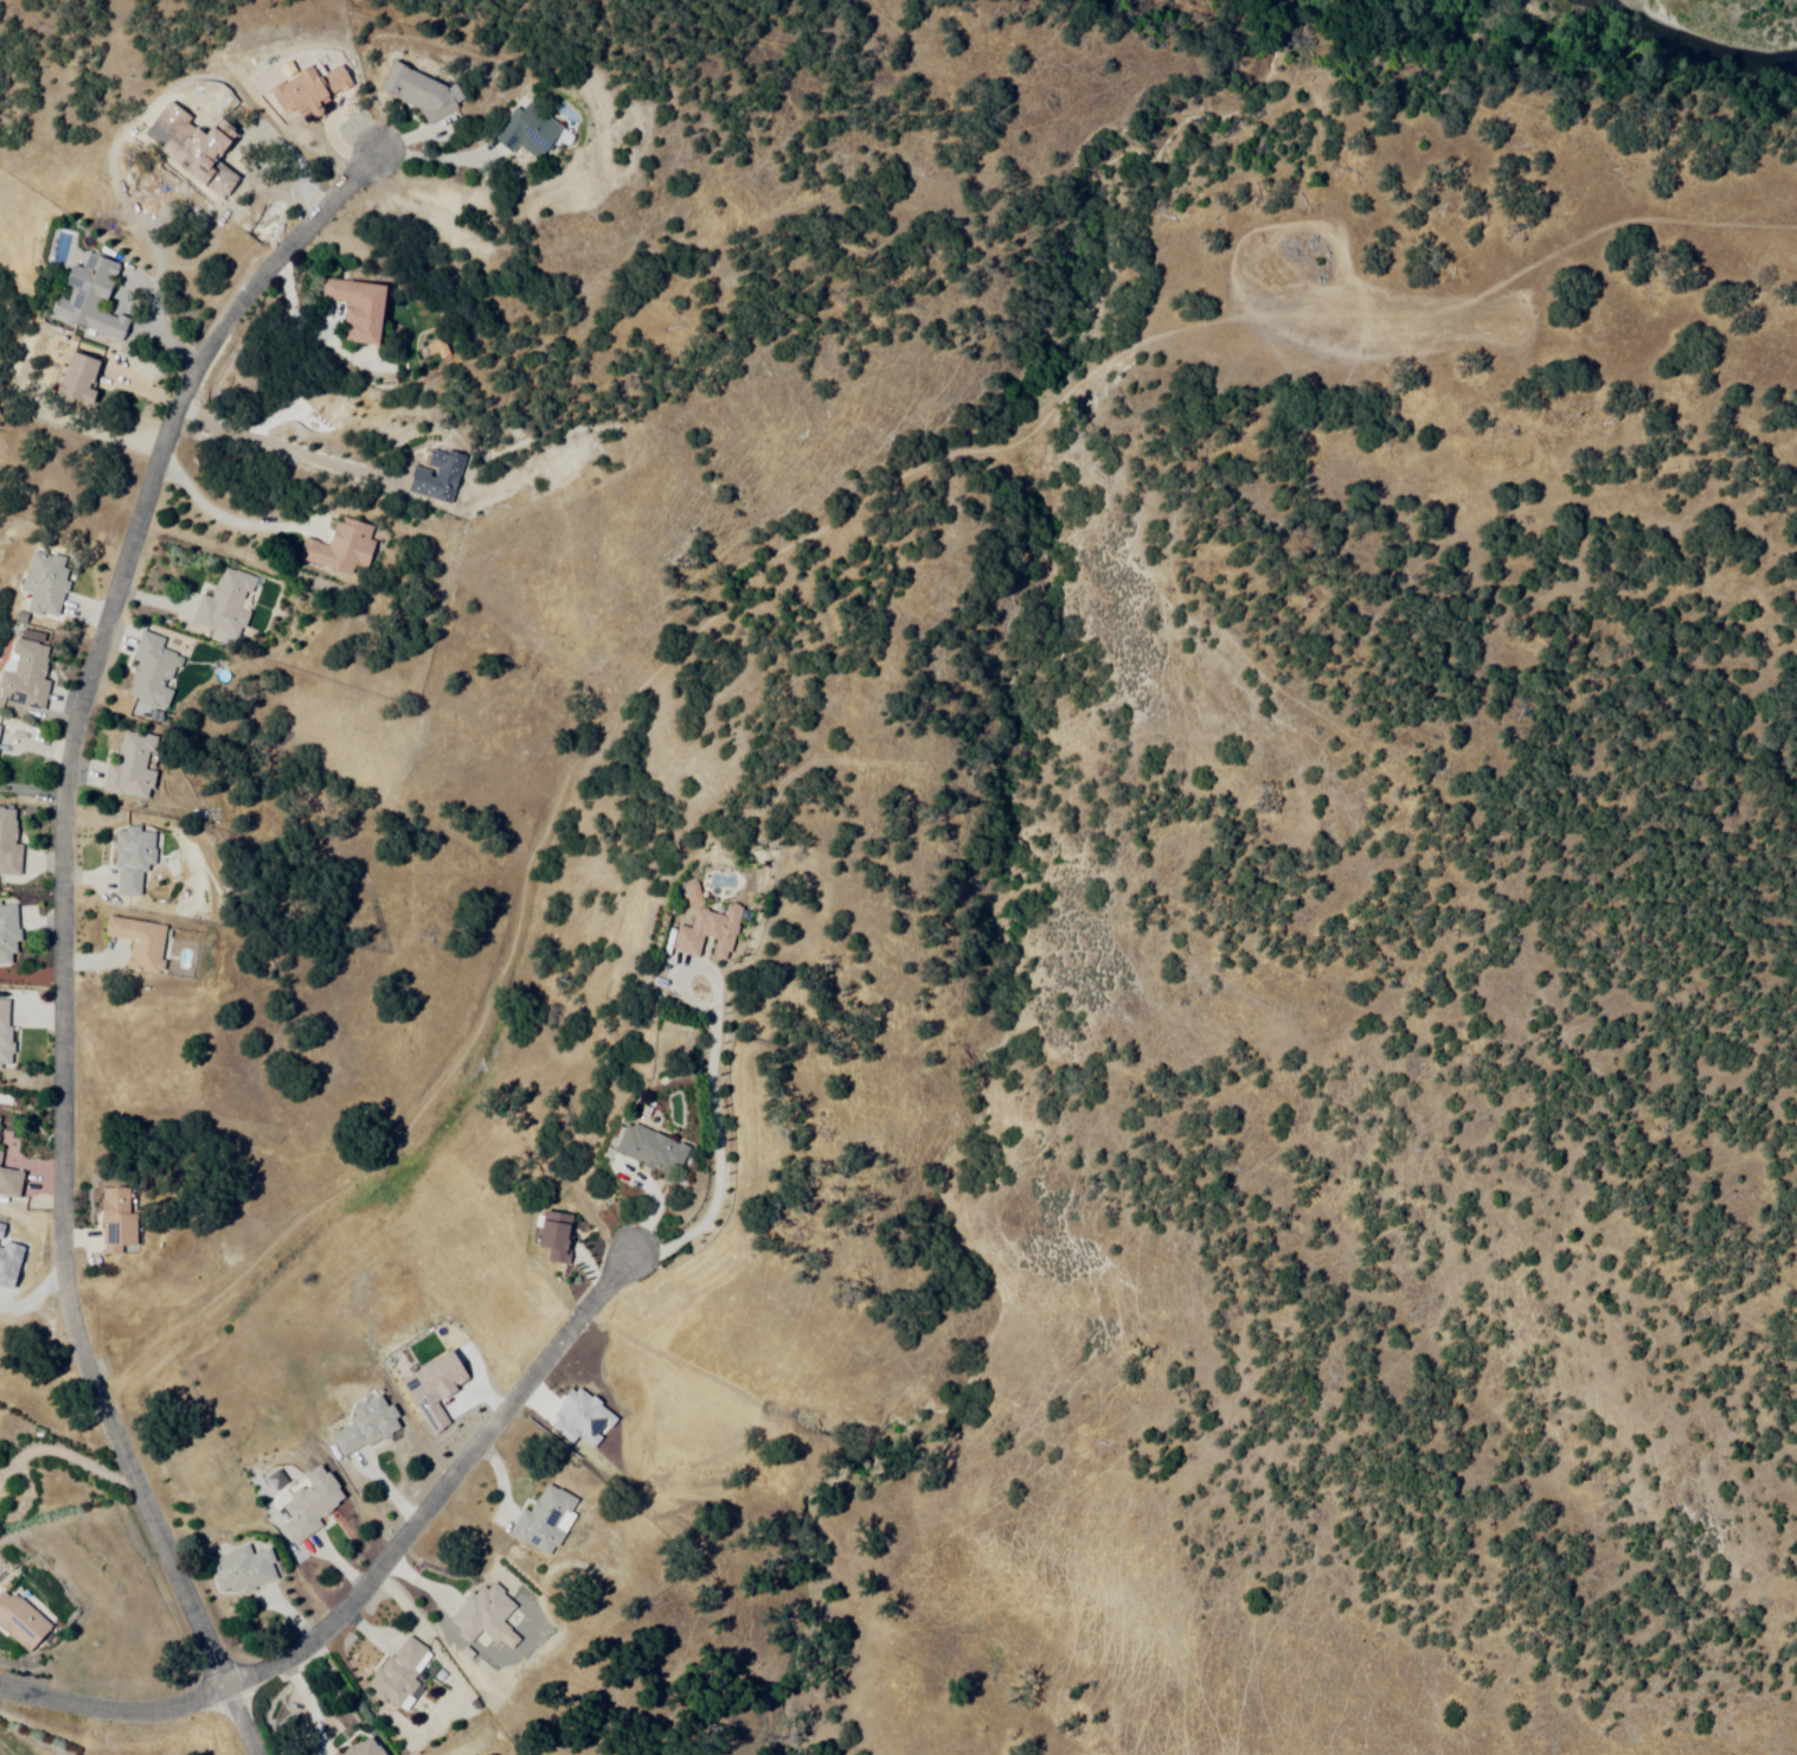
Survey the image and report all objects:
river: (1700, 56)
building: (310, 94)
building: (425, 94)
building: (530, 132)
building: (96, 301)
building: (360, 310)
building: (83, 383)
road: (288, 448)
building: (439, 479)
road: (230, 520)
building: (344, 552)
building: (50, 585)
building: (227, 606)
building: (153, 672)
building: (31, 677)
building: (1, 737)
building: (133, 773)
building: (11, 844)
building: (135, 859)
road: (68, 928)
building: (711, 934)
building: (11, 935)
building: (141, 946)
building: (7, 1037)
road: (714, 1085)
building: (1, 1130)
building: (652, 1153)
building: (11, 1184)
building: (120, 1223)
building: (557, 1238)
building: (429, 1395)
building: (584, 1416)
building: (358, 1434)
building: (313, 1501)
building: (547, 1516)
building: (245, 1567)
road: (377, 1578)
building: (484, 1608)
building: (23, 1619)
building: (400, 1672)
building: (365, 1747)

